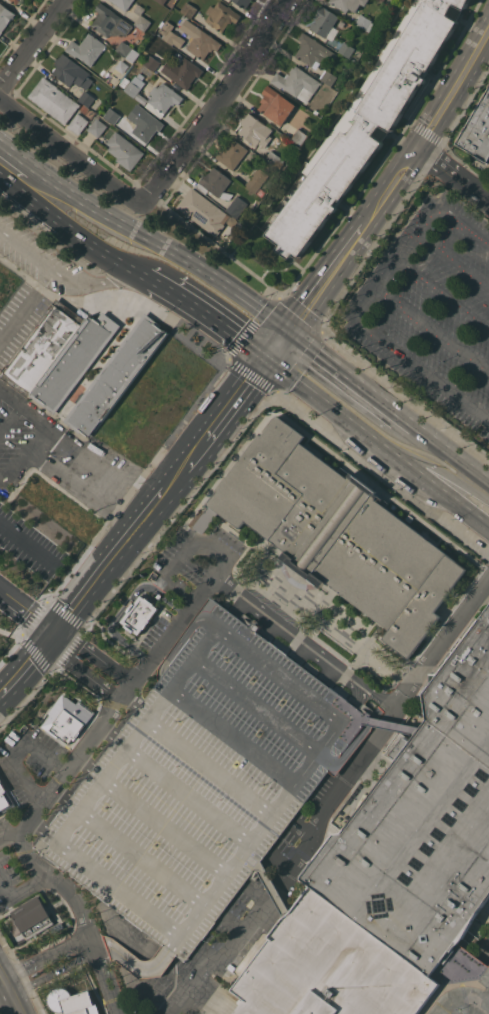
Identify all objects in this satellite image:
building: (382, 0)
building: (15, 1)
building: (161, 1)
building: (242, 2)
building: (123, 3)
building: (348, 4)
building: (188, 9)
building: (221, 15)
building: (5, 16)
building: (141, 18)
building: (110, 22)
building: (325, 22)
building: (365, 22)
building: (167, 34)
road: (32, 42)
building: (202, 43)
building: (86, 48)
building: (124, 48)
building: (346, 49)
building: (313, 51)
building: (153, 60)
building: (121, 65)
building: (71, 72)
building: (185, 72)
building: (329, 77)
building: (124, 82)
building: (297, 82)
building: (135, 84)
building: (86, 98)
building: (163, 98)
building: (55, 99)
road: (216, 104)
building: (276, 104)
building: (112, 114)
building: (367, 120)
building: (78, 123)
building: (145, 126)
building: (97, 127)
building: (254, 130)
building: (477, 130)
building: (299, 136)
building: (124, 150)
road: (71, 152)
building: (232, 153)
building: (275, 160)
road: (452, 176)
building: (257, 179)
building: (213, 181)
road: (393, 181)
building: (261, 191)
building: (226, 194)
building: (237, 206)
building: (203, 210)
road: (62, 225)
road: (142, 234)
road: (453, 260)
road: (137, 272)
road: (59, 274)
road: (159, 282)
building: (7, 283)
road: (443, 293)
road: (276, 298)
road: (117, 300)
road: (24, 301)
road: (362, 305)
road: (219, 321)
traffic signals: (286, 328)
road: (433, 329)
road: (276, 340)
building: (44, 346)
traffic signals: (267, 353)
building: (75, 360)
building: (117, 374)
road: (350, 375)
road: (10, 418)
road: (355, 421)
road: (42, 434)
road: (452, 453)
road: (450, 478)
road: (139, 480)
road: (82, 487)
road: (466, 506)
road: (178, 507)
road: (134, 524)
building: (339, 533)
road: (24, 542)
road: (185, 552)
road: (211, 582)
road: (179, 589)
road: (252, 593)
road: (127, 607)
road: (26, 610)
building: (139, 614)
road: (282, 615)
road: (219, 629)
road: (79, 632)
road: (9, 633)
traffic signals: (53, 633)
road: (57, 637)
road: (167, 637)
road: (312, 639)
road: (361, 645)
road: (11, 647)
road: (343, 662)
road: (373, 685)
road: (124, 690)
road: (26, 697)
road: (387, 697)
road: (59, 699)
road: (130, 702)
road: (257, 707)
building: (67, 724)
road: (109, 730)
road: (233, 738)
road: (19, 751)
road: (86, 761)
road: (210, 768)
building: (203, 779)
parking lot: (203, 779)
road: (61, 794)
road: (189, 797)
building: (5, 799)
road: (39, 824)
building: (424, 825)
road: (165, 827)
road: (302, 828)
road: (23, 831)
road: (300, 852)
road: (142, 858)
road: (276, 861)
road: (254, 892)
building: (33, 917)
road: (231, 922)
road: (93, 944)
building: (330, 968)
road: (140, 969)
road: (21, 974)
building: (466, 991)
road: (10, 995)
road: (461, 996)
road: (486, 997)
building: (73, 1002)
road: (7, 1005)

